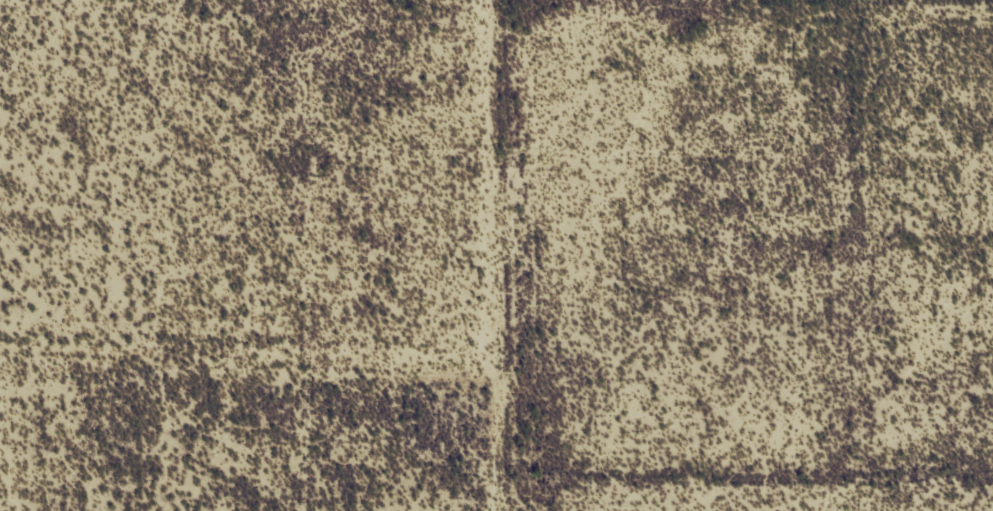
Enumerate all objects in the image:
road: (517, 255)

